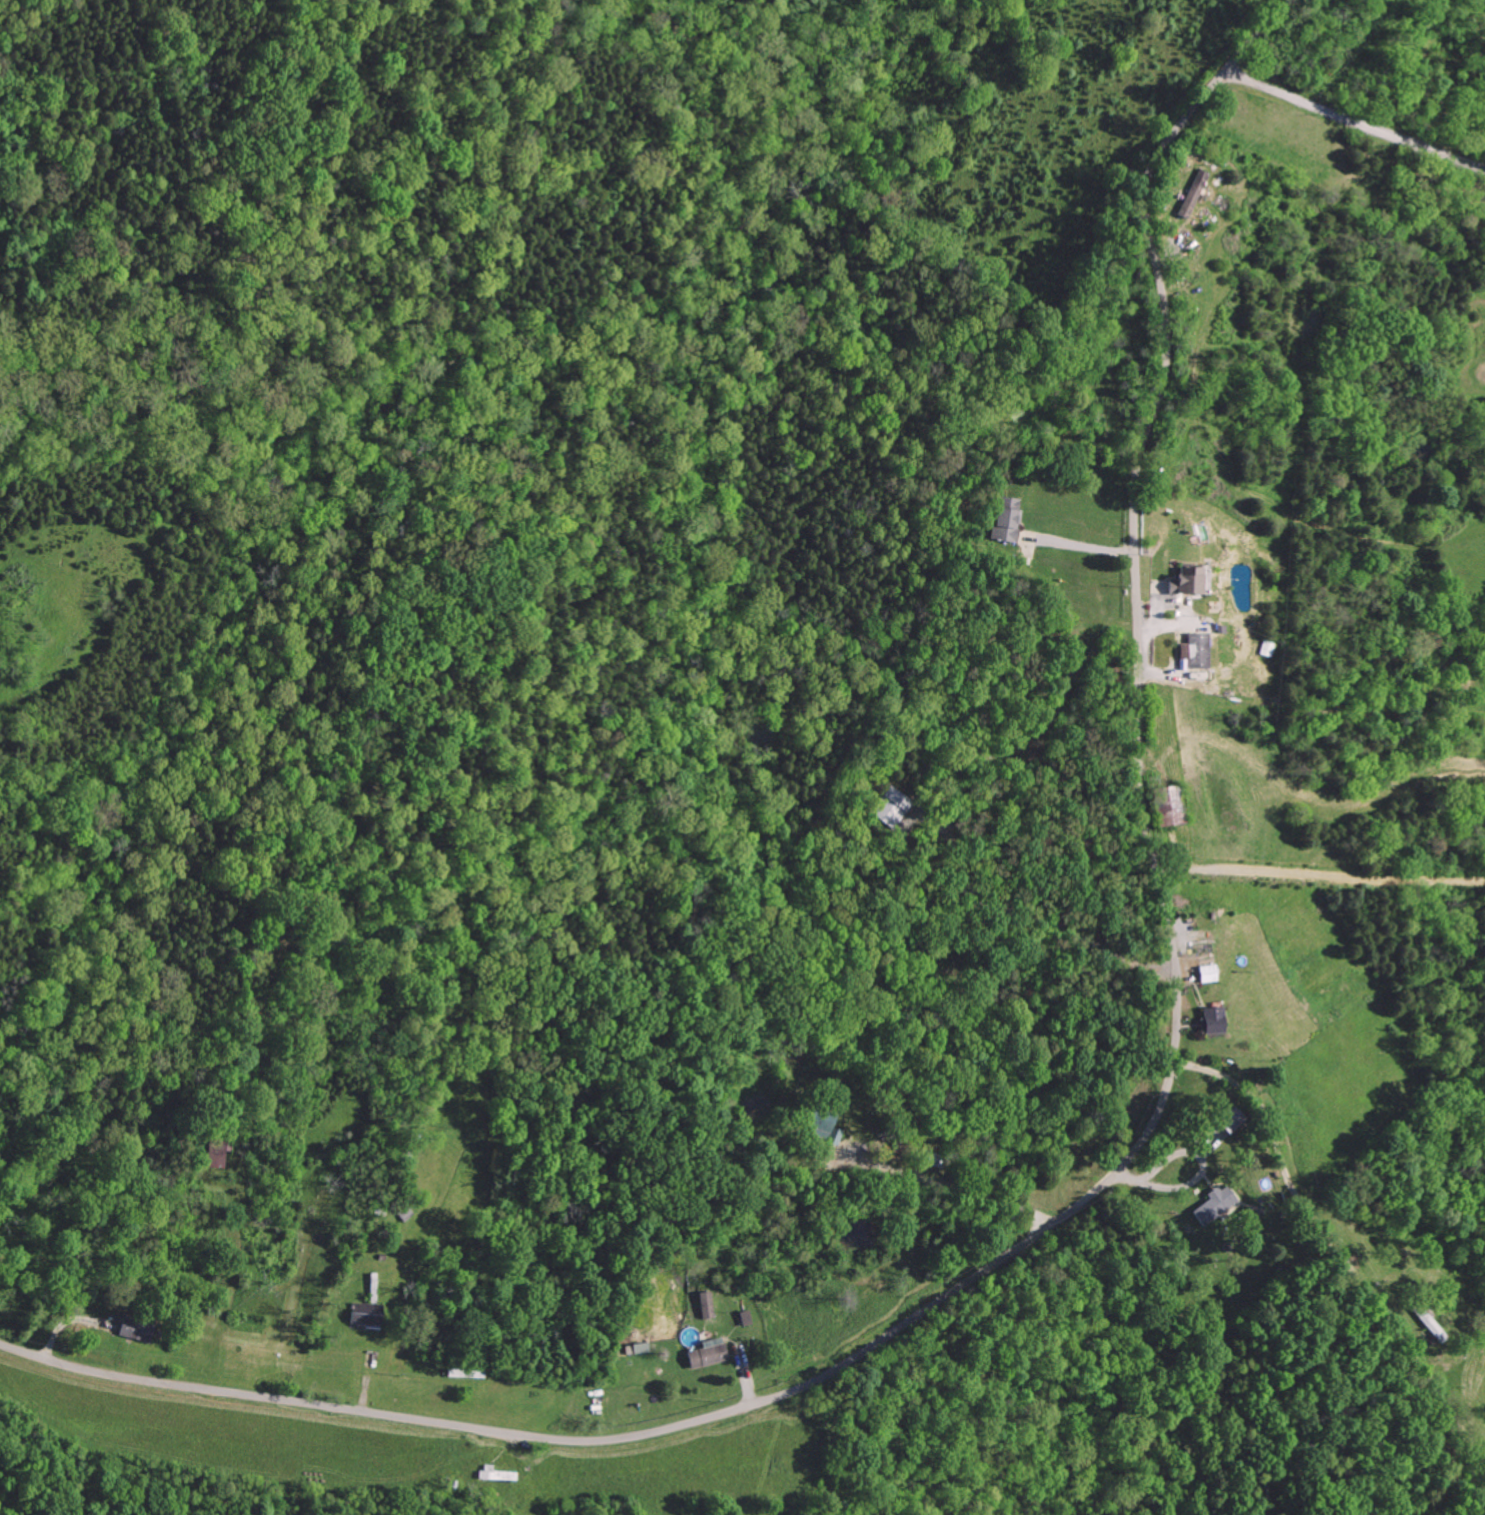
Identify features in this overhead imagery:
road: (1355, 119)
building: (1186, 195)
road: (1083, 544)
building: (1189, 580)
building: (1197, 650)
road: (1047, 918)
building: (1207, 973)
building: (1212, 1020)
building: (1232, 1121)
building: (826, 1127)
road: (1135, 1152)
road: (1207, 1164)
road: (959, 1186)
building: (1216, 1205)
road: (1342, 1242)
building: (706, 1305)
building: (365, 1313)
building: (136, 1330)
building: (636, 1348)
building: (707, 1355)

